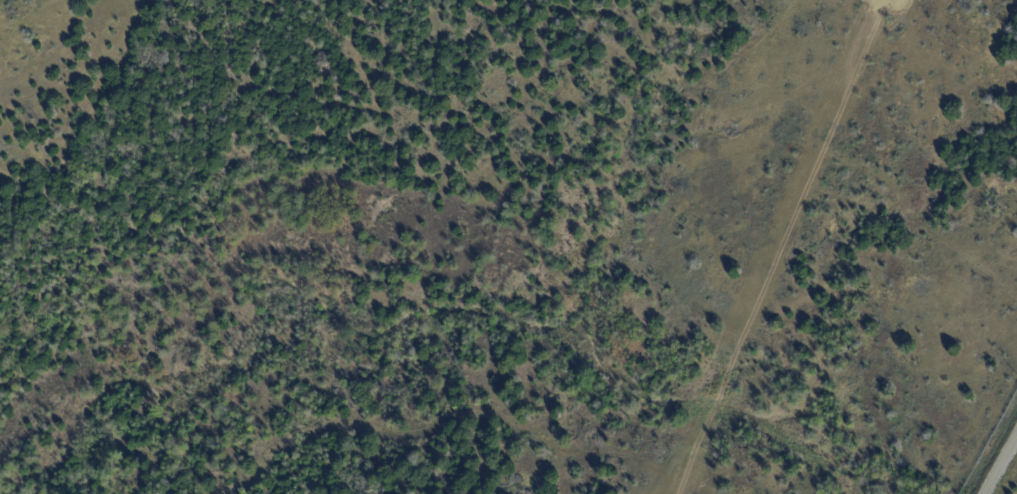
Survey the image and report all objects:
road: (1003, 469)

